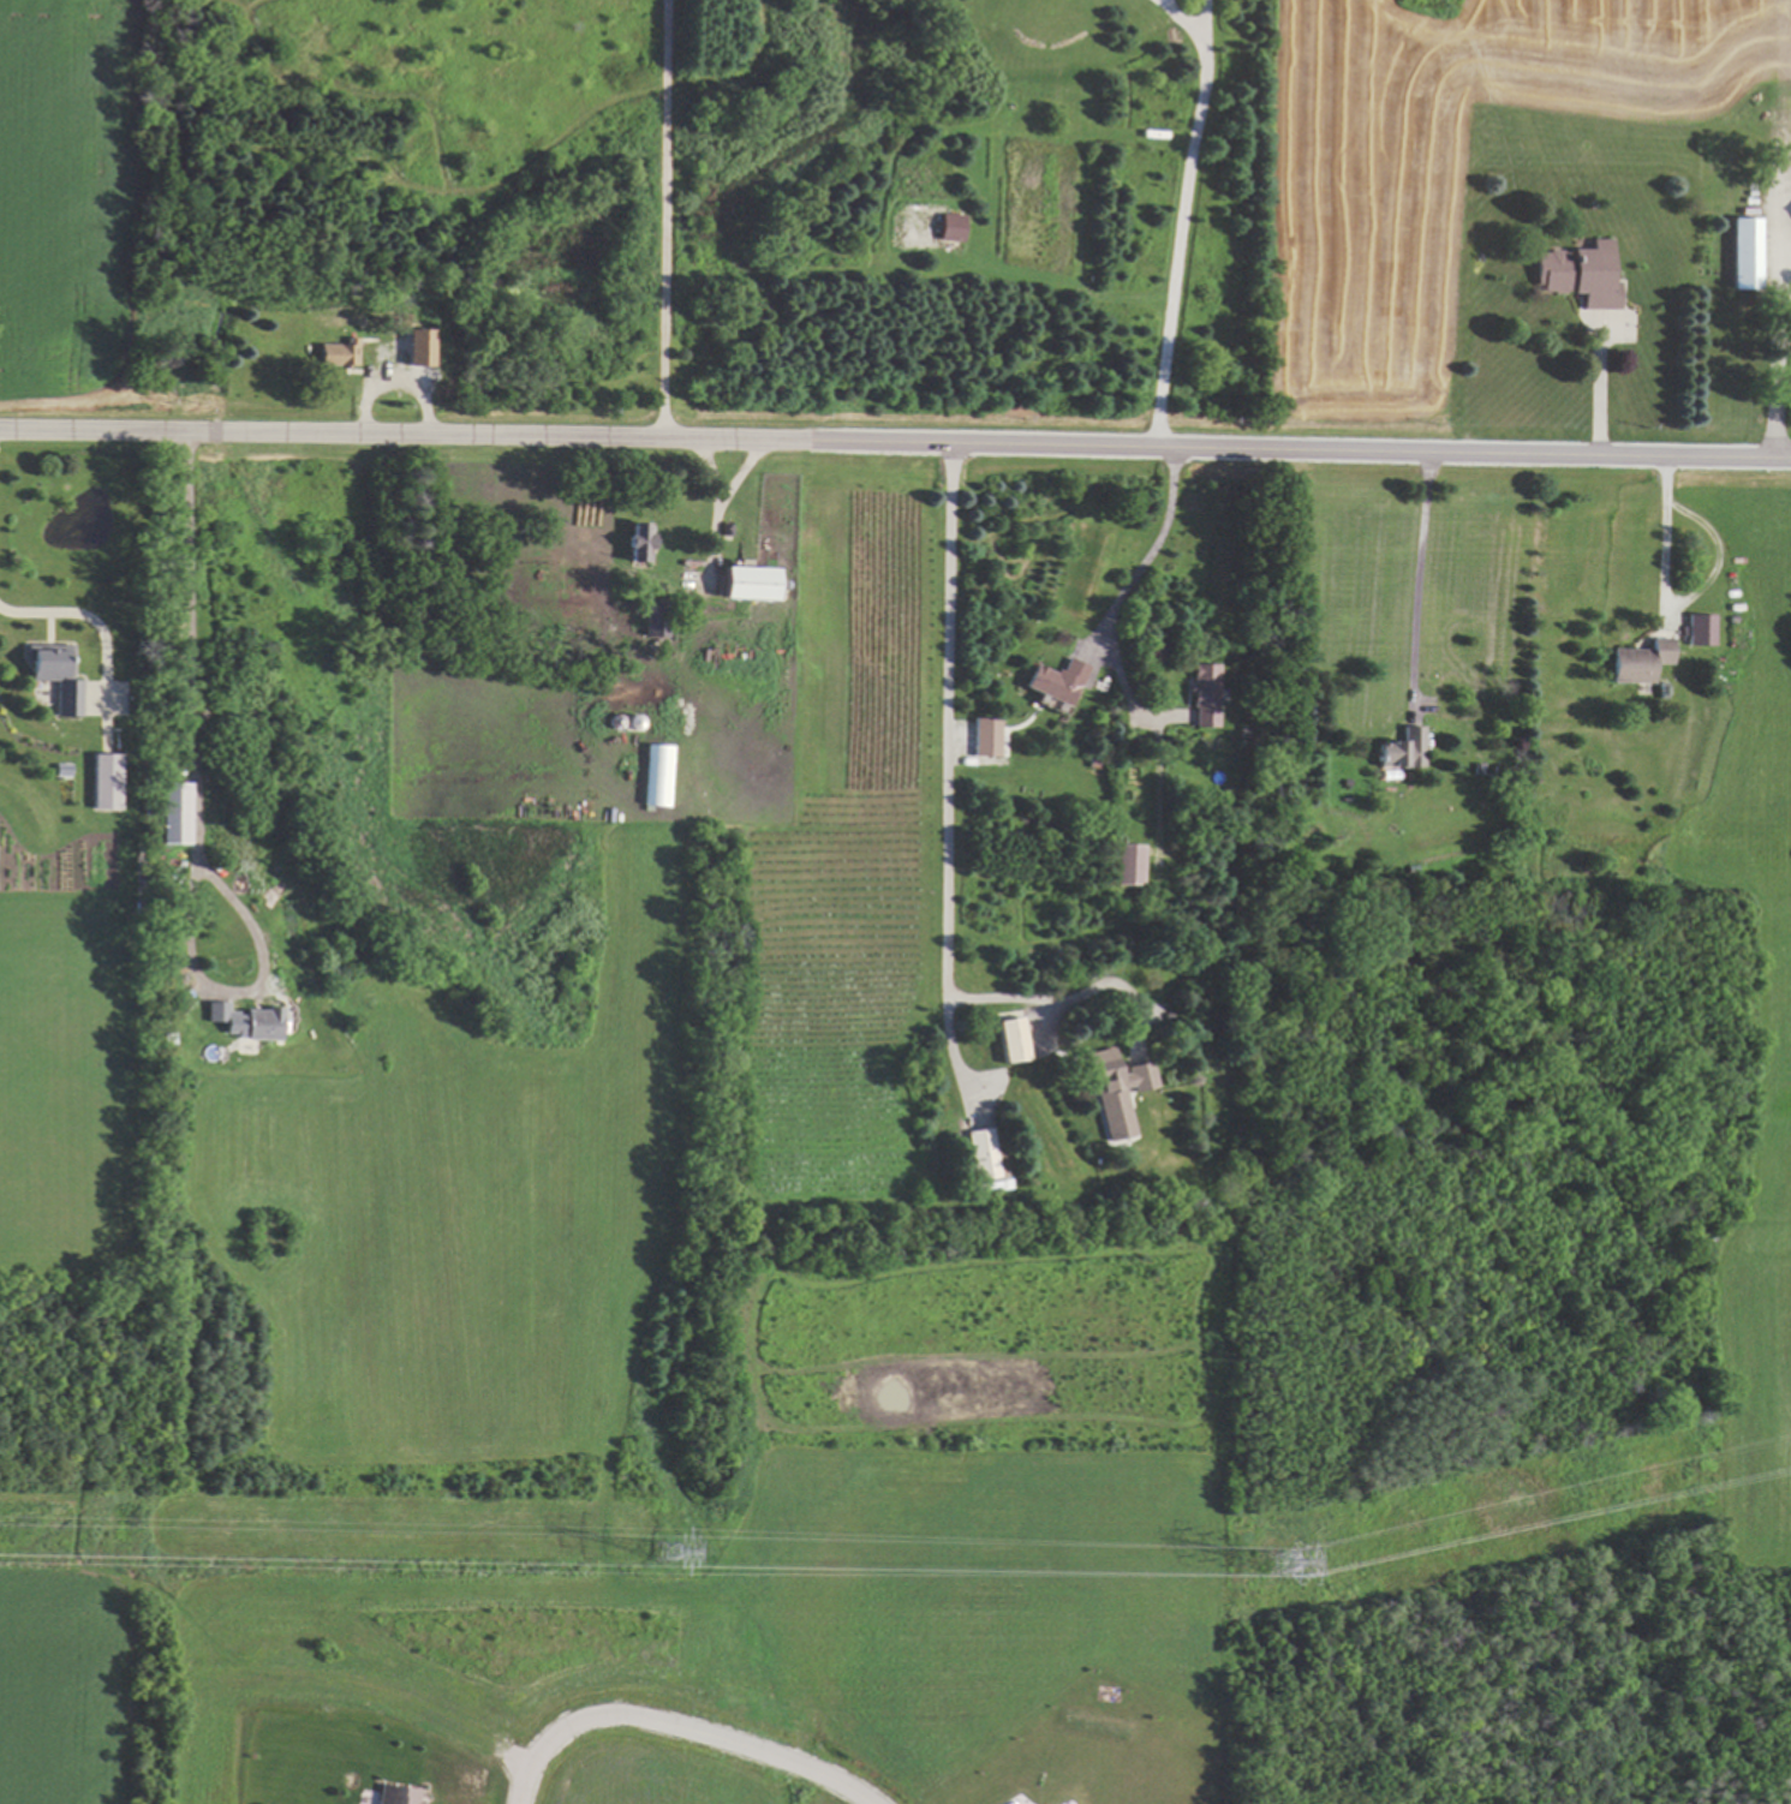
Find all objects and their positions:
road: (1207, 26)
crop: (1447, 159)
crop: (68, 193)
road: (1181, 217)
road: (663, 223)
building: (950, 226)
building: (1744, 252)
building: (1578, 273)
building: (417, 346)
building: (335, 353)
road: (1598, 388)
road: (1777, 394)
road: (895, 450)
road: (712, 474)
road: (738, 476)
road: (1158, 538)
building: (635, 540)
road: (1665, 544)
road: (712, 545)
building: (747, 583)
road: (1416, 589)
road: (97, 611)
building: (1700, 628)
building: (1640, 661)
building: (56, 675)
road: (1117, 679)
building: (1056, 680)
building: (1204, 694)
building: (987, 736)
building: (1402, 751)
building: (657, 775)
building: (105, 781)
building: (173, 812)
road: (196, 820)
road: (947, 829)
building: (1128, 864)
building: (246, 1021)
building: (1011, 1039)
crop: (54, 1077)
building: (1115, 1089)
building: (981, 1153)
power tower: (665, 1563)
power tower: (1279, 1564)
crop: (58, 1694)
road: (676, 1728)
building: (396, 1794)

